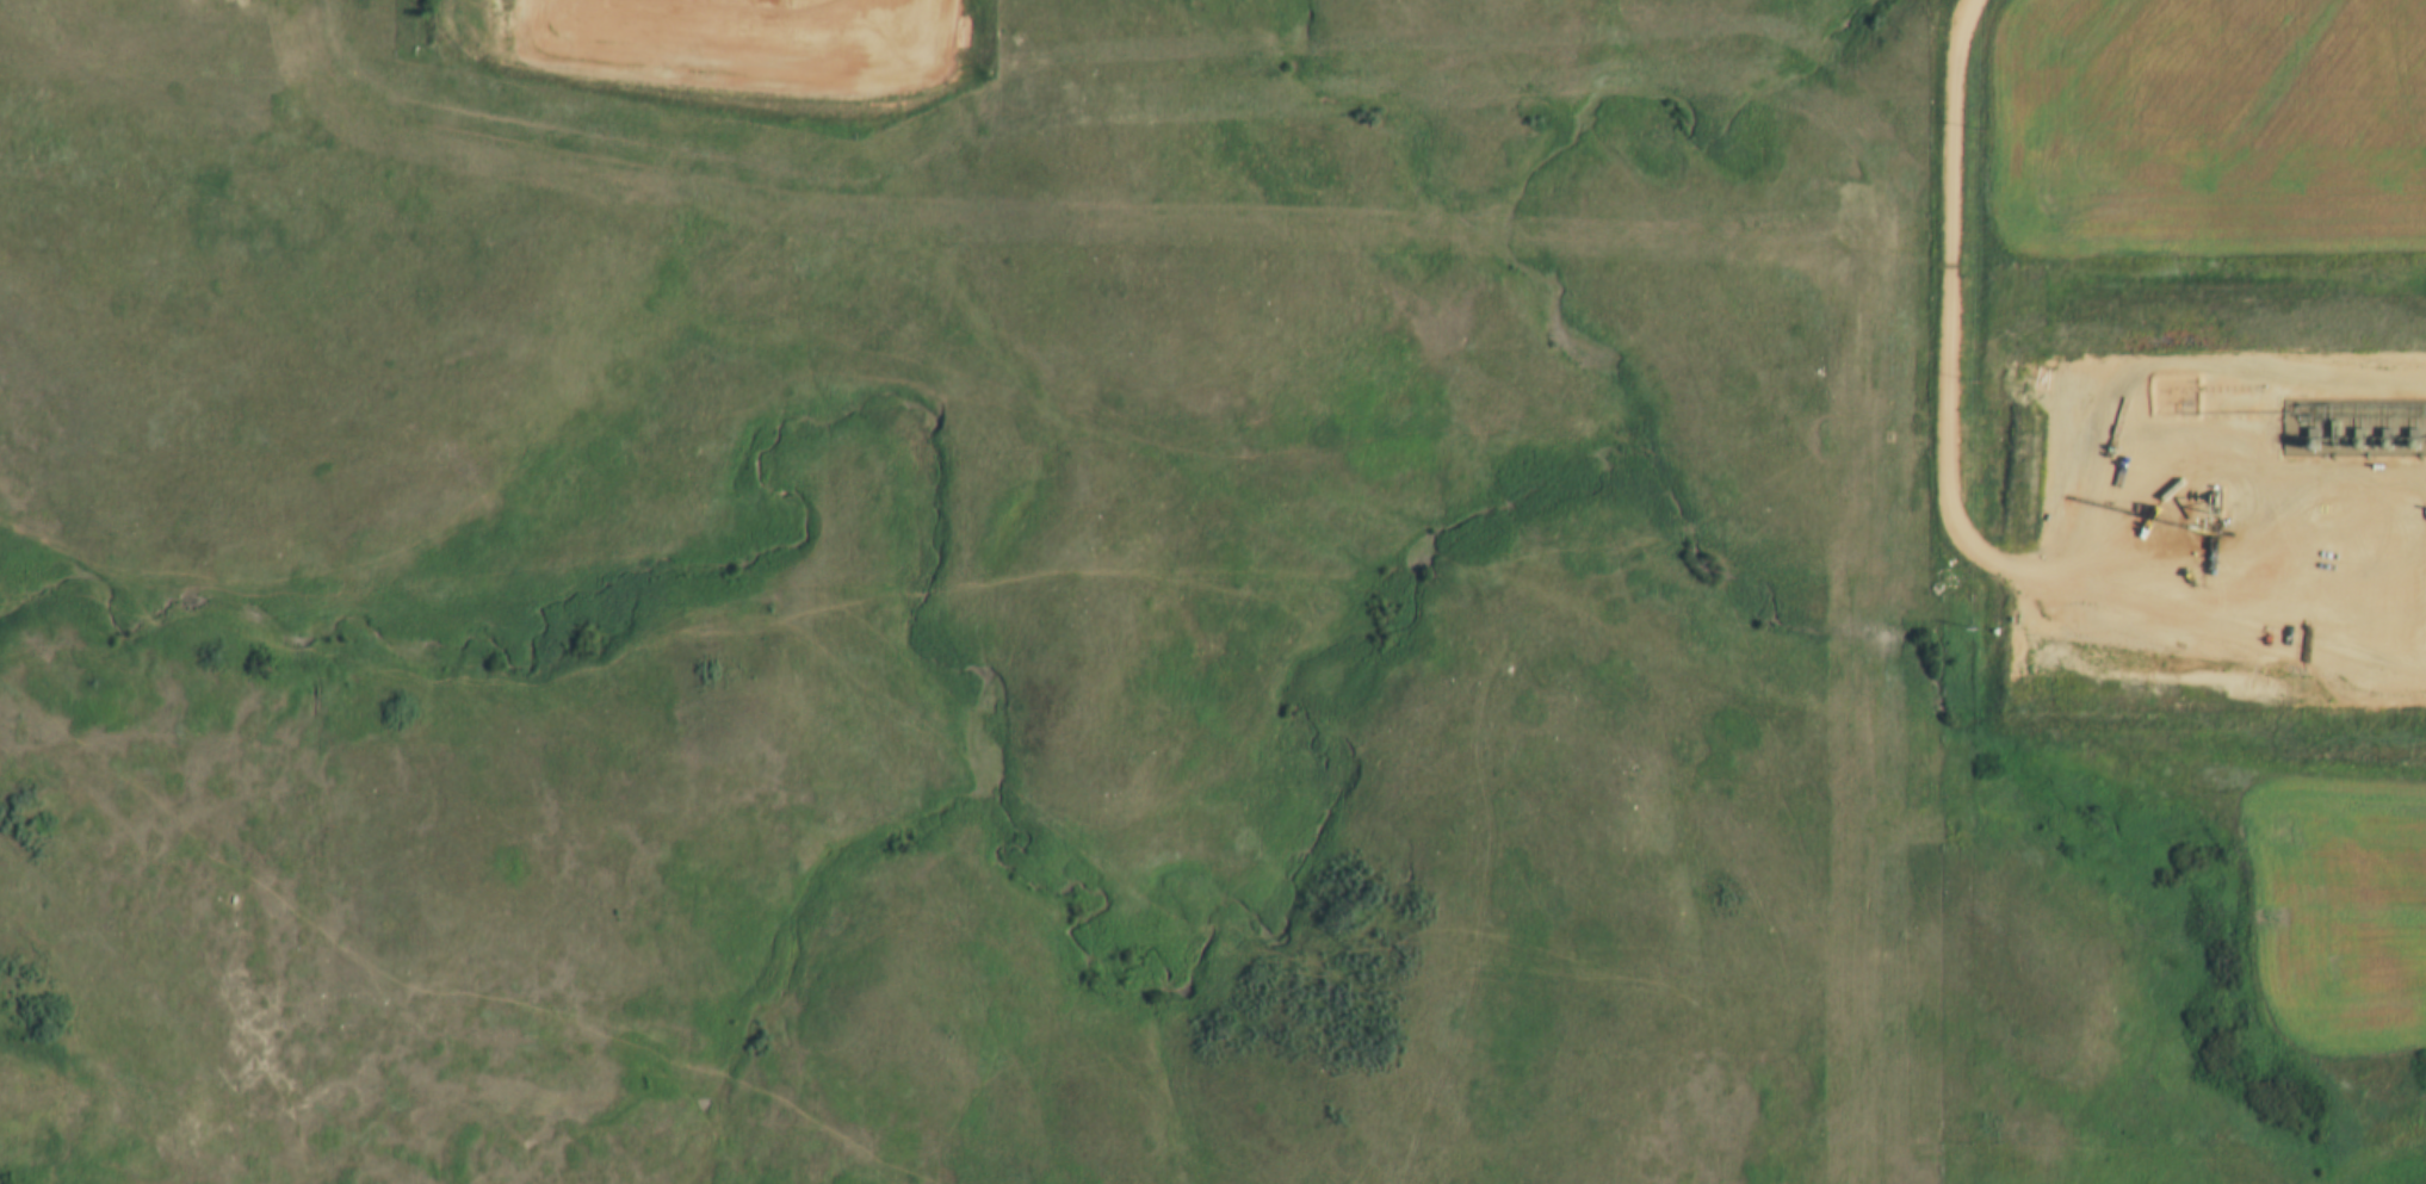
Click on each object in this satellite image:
building: (730, 23)
road: (1952, 459)

